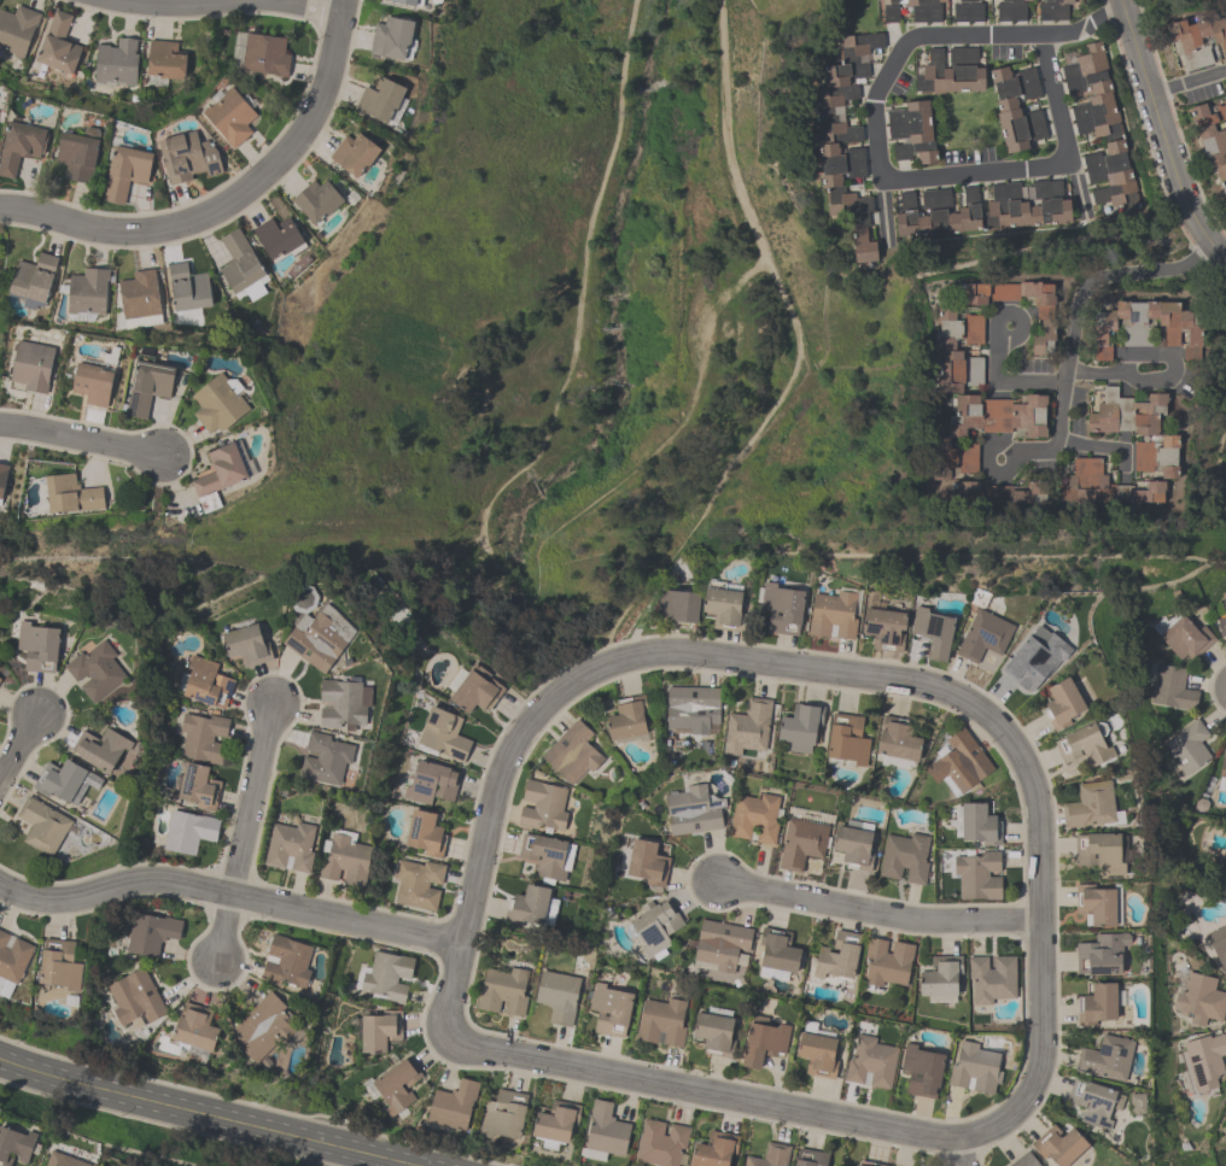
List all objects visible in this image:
building: (407, 2)
road: (299, 5)
road: (1121, 5)
building: (891, 10)
building: (924, 10)
building: (967, 10)
building: (1010, 10)
building: (1052, 10)
road: (1084, 25)
building: (17, 29)
building: (390, 37)
building: (1196, 39)
building: (58, 45)
road: (1135, 51)
building: (264, 54)
building: (164, 60)
building: (116, 63)
building: (953, 70)
road: (1187, 81)
building: (379, 99)
building: (1016, 107)
building: (229, 116)
building: (1101, 128)
building: (911, 131)
building: (843, 137)
building: (1212, 140)
building: (19, 146)
building: (77, 154)
building: (352, 154)
building: (187, 157)
road: (1172, 168)
building: (125, 172)
road: (893, 178)
road: (229, 199)
building: (316, 200)
building: (1027, 209)
building: (279, 239)
road: (1216, 247)
road: (1225, 254)
road: (1225, 256)
building: (241, 268)
building: (31, 281)
building: (187, 291)
road: (1080, 293)
building: (87, 294)
building: (139, 295)
building: (1044, 312)
road: (1017, 314)
building: (1143, 326)
park: (591, 342)
building: (945, 347)
building: (30, 367)
road: (1152, 373)
road: (1004, 381)
building: (92, 383)
building: (147, 386)
building: (218, 404)
building: (1125, 414)
building: (983, 428)
road: (1102, 441)
road: (82, 443)
road: (1035, 451)
building: (1157, 456)
building: (217, 476)
road: (987, 476)
building: (2, 477)
building: (1103, 486)
building: (999, 492)
building: (70, 494)
building: (677, 605)
building: (723, 607)
building: (780, 608)
building: (831, 615)
building: (1222, 620)
building: (883, 629)
building: (932, 632)
building: (982, 635)
building: (1185, 639)
building: (314, 641)
building: (246, 644)
building: (37, 646)
building: (1035, 658)
building: (95, 670)
road: (572, 678)
building: (0, 682)
building: (204, 682)
building: (473, 689)
building: (1172, 689)
building: (1062, 703)
building: (344, 704)
building: (691, 708)
building: (626, 719)
building: (747, 727)
building: (799, 727)
building: (442, 734)
building: (203, 737)
building: (846, 739)
building: (897, 739)
building: (1084, 744)
building: (1187, 748)
road: (17, 749)
building: (100, 749)
building: (571, 752)
building: (328, 761)
building: (959, 762)
building: (1222, 772)
building: (65, 781)
building: (431, 783)
building: (198, 786)
building: (1090, 805)
building: (542, 807)
building: (693, 810)
building: (754, 818)
building: (979, 825)
building: (41, 826)
building: (188, 832)
building: (425, 834)
road: (239, 838)
building: (800, 843)
building: (853, 843)
building: (290, 846)
building: (1098, 852)
building: (547, 855)
building: (903, 857)
building: (344, 859)
building: (647, 862)
building: (977, 874)
building: (418, 884)
road: (229, 889)
building: (1096, 904)
building: (526, 907)
road: (878, 910)
building: (654, 928)
building: (150, 933)
building: (1218, 944)
building: (720, 945)
building: (776, 954)
building: (1101, 954)
building: (837, 956)
building: (12, 962)
building: (286, 962)
building: (886, 962)
building: (59, 965)
building: (384, 977)
building: (939, 978)
building: (991, 978)
building: (502, 991)
building: (557, 996)
building: (134, 998)
building: (1199, 1000)
building: (1098, 1002)
building: (609, 1009)
building: (661, 1023)
building: (194, 1027)
building: (263, 1027)
building: (379, 1030)
building: (713, 1032)
building: (763, 1041)
building: (816, 1051)
building: (1105, 1057)
building: (1204, 1061)
building: (870, 1062)
building: (974, 1068)
building: (921, 1071)
building: (396, 1085)
building: (1094, 1102)
building: (1134, 1103)
building: (451, 1107)
road: (205, 1115)
building: (502, 1118)
building: (555, 1125)
building: (605, 1132)
building: (661, 1143)
building: (14, 1146)
building: (1058, 1146)
building: (714, 1149)
building: (770, 1155)
road: (961, 1156)
building: (810, 1158)
building: (62, 1160)
building: (1024, 1160)
building: (868, 1164)

